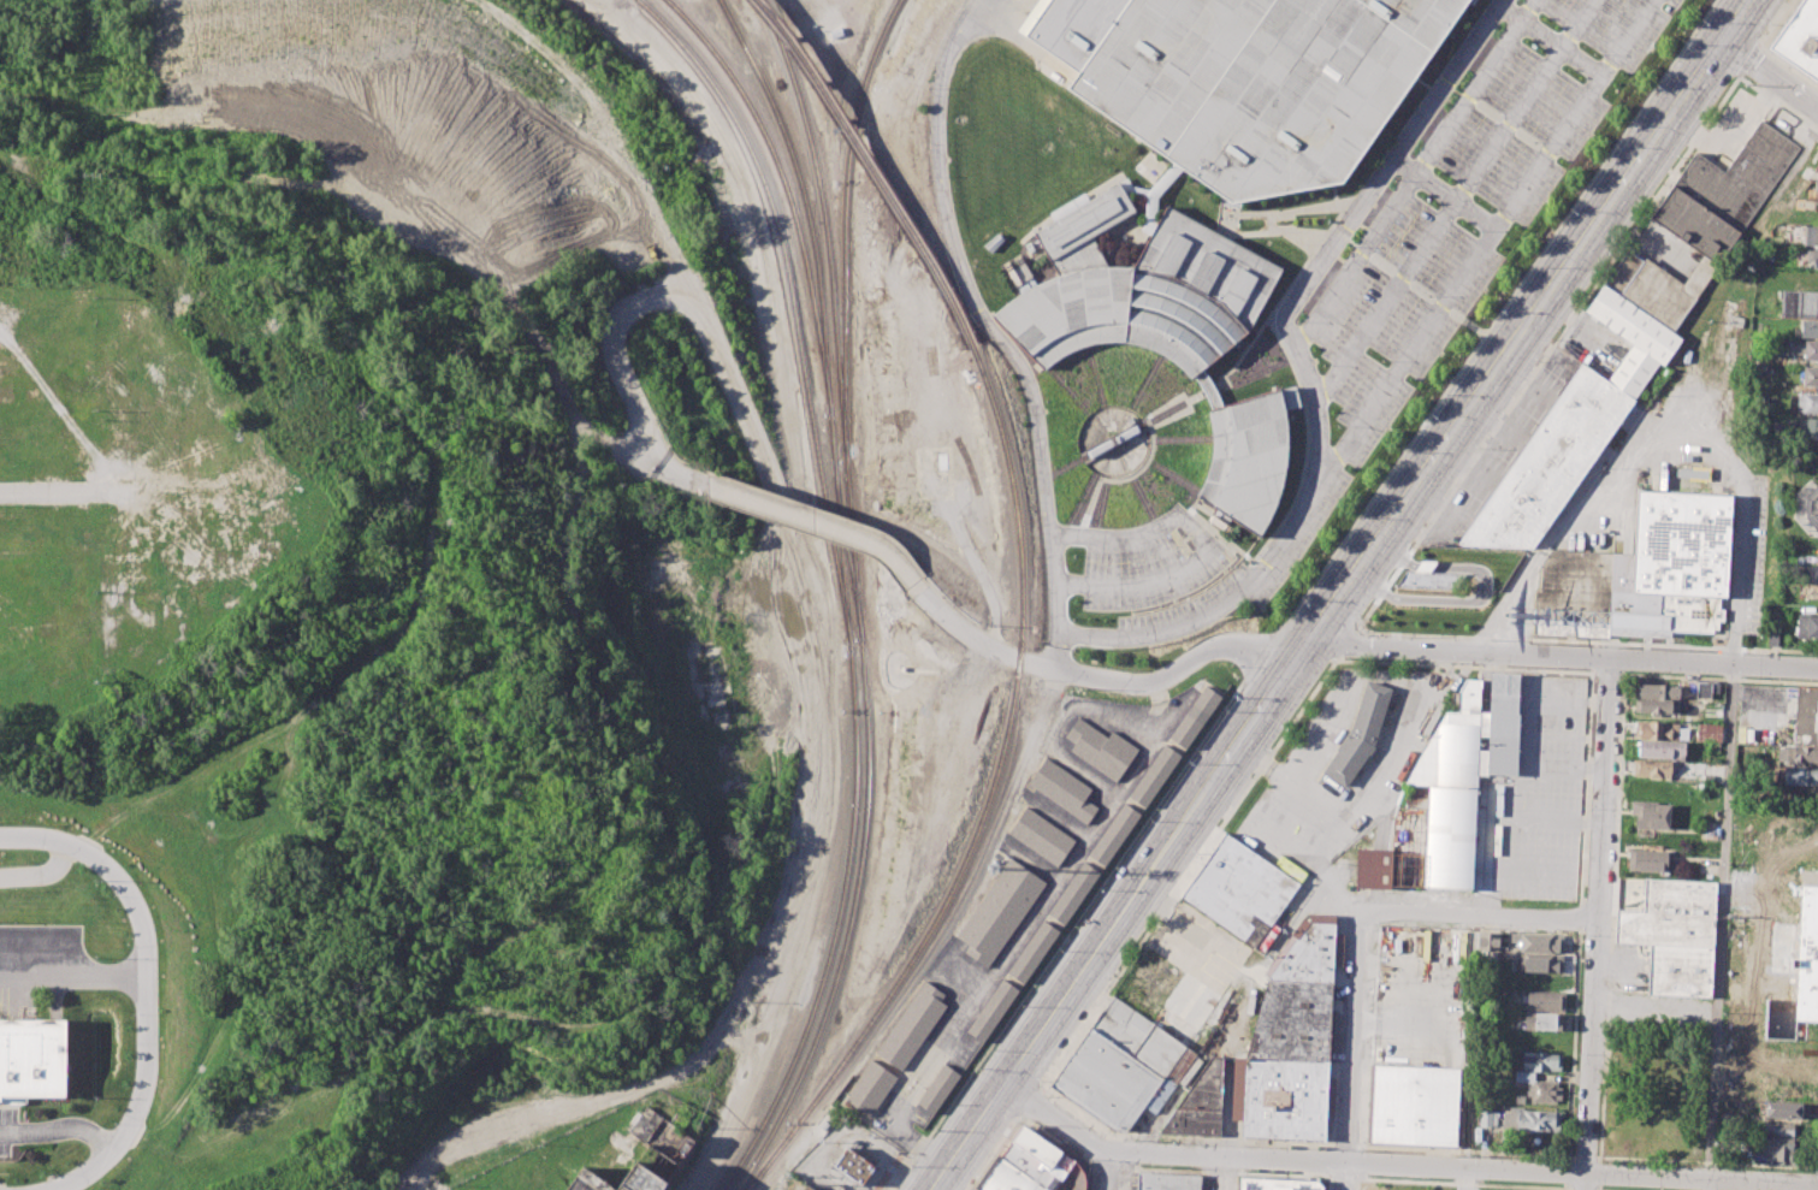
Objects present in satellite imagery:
road: (604, 2)
street lamp: (1701, 20)
parking lot: (1613, 24)
building: (1070, 29)
building: (1799, 39)
road: (1548, 40)
road: (1759, 45)
road: (1766, 52)
road: (1748, 61)
road: (1772, 76)
building: (1256, 84)
road: (1777, 103)
street lamp: (1629, 126)
parking lot: (1514, 129)
street lamp: (1678, 158)
building: (1816, 165)
railway: (874, 167)
road: (1415, 173)
railway: (787, 190)
building: (1816, 190)
road: (1444, 193)
railway: (805, 199)
road: (1455, 200)
street lamp: (1570, 211)
railway: (824, 220)
railway: (845, 220)
road: (1346, 224)
building: (1699, 226)
railway: (1148, 233)
building: (1810, 236)
street lamp: (1609, 256)
building: (1812, 256)
building: (1139, 290)
railway: (792, 304)
building: (1799, 304)
road: (704, 319)
building: (1810, 330)
road: (990, 331)
road: (1526, 333)
building: (1808, 350)
road: (1547, 351)
street lamp: (1536, 362)
railway: (1262, 373)
road: (1392, 375)
railway: (1096, 377)
building: (1810, 378)
railway: (1145, 383)
railway: (1070, 391)
building: (1289, 397)
building: (1807, 403)
parking lot: (1367, 413)
railway: (1166, 415)
street lamp: (1431, 416)
building: (1806, 427)
building: (1574, 432)
railway: (1180, 440)
street lamp: (1478, 449)
building: (1245, 460)
railway: (1070, 467)
railway: (1172, 475)
railway: (1124, 476)
road: (686, 478)
road: (51, 491)
park: (1793, 496)
railway: (1142, 497)
railway: (1084, 499)
railway: (1103, 503)
railway: (1273, 509)
street lamp: (1361, 519)
road: (823, 523)
street lamp: (1409, 544)
road: (1204, 545)
railway: (846, 550)
building: (1646, 569)
building: (1810, 573)
building: (1429, 579)
street lamp: (1302, 602)
street lamp: (1358, 618)
building: (1807, 627)
road: (1473, 637)
building: (1773, 637)
road: (1345, 641)
road: (1702, 646)
road: (1564, 655)
road: (1592, 656)
road: (1337, 657)
street lamp: (1346, 661)
street lamp: (1451, 663)
street lamp: (1556, 668)
road: (1607, 671)
street lamp: (1650, 673)
road: (1097, 677)
road: (1719, 677)
street lamp: (1741, 677)
building: (1702, 689)
building: (1658, 691)
street lamp: (1234, 699)
building: (1658, 705)
railway: (875, 710)
building: (1196, 717)
building: (1801, 717)
street lamp: (1283, 729)
building: (1658, 730)
building: (1710, 732)
building: (1361, 736)
building: (1101, 747)
building: (1660, 748)
building: (1801, 756)
road: (1528, 768)
building: (1651, 768)
building: (1155, 776)
building: (1801, 776)
road: (1585, 786)
building: (1062, 788)
road: (1380, 788)
building: (1450, 792)
road: (1725, 792)
railway: (989, 798)
street lamp: (1588, 809)
building: (1650, 813)
railway: (853, 815)
road: (1515, 817)
street lamp: (1149, 822)
railway: (863, 833)
building: (1115, 834)
building: (1042, 836)
street lamp: (1196, 856)
building: (1647, 860)
road: (41, 872)
road: (1528, 874)
road: (1173, 889)
road: (1486, 892)
building: (1775, 892)
building: (1240, 893)
building: (1074, 894)
building: (1000, 911)
road: (1478, 911)
road: (1611, 917)
road: (1577, 918)
road: (1597, 923)
road: (1113, 928)
road: (1024, 933)
street lamp: (1582, 935)
building: (1674, 936)
building: (1487, 941)
building: (1538, 941)
building: (1034, 952)
street lamp: (1059, 952)
building: (1539, 963)
building: (1806, 972)
road: (71, 973)
street lamp: (1109, 978)
road: (142, 988)
building: (1544, 1000)
building: (994, 1012)
building: (1542, 1022)
building: (912, 1024)
building: (1293, 1042)
road: (1350, 1048)
street lamp: (989, 1052)
street lamp: (1577, 1056)
building: (32, 1059)
building: (1540, 1061)
building: (1130, 1062)
street lamp: (1040, 1084)
building: (870, 1087)
building: (1540, 1088)
building: (938, 1089)
road: (1042, 1089)
street lamp: (1047, 1096)
building: (1517, 1100)
road: (1031, 1102)
building: (1201, 1105)
building: (1416, 1106)
building: (1781, 1109)
building: (922, 1113)
building: (1487, 1119)
building: (1530, 1119)
road: (58, 1127)
building: (1777, 1129)
street lamp: (1574, 1139)
street lamp: (1136, 1141)
road: (1055, 1144)
street lamp: (1242, 1145)
road: (1344, 1148)
road: (1568, 1148)
building: (1781, 1148)
street lamp: (1363, 1150)
road: (997, 1153)
street lamp: (1473, 1155)
road: (1568, 1155)
building: (640, 1156)
road: (1583, 1156)
road: (1706, 1160)
street lamp: (1604, 1162)
road: (1399, 1164)
road: (1109, 1165)
building: (855, 1166)
building: (1029, 1166)
street lamp: (1696, 1166)
street lamp: (910, 1167)
road: (1817, 1170)
road: (1230, 1171)
road: (1567, 1171)
road: (1226, 1172)
street lamp: (1816, 1172)
road: (1330, 1173)
road: (1598, 1173)
road: (1113, 1174)
road: (1124, 1176)
building: (1277, 1180)
building: (1168, 1182)
road: (1328, 1182)
road: (1817, 1182)
road: (1462, 1183)
road: (1356, 1184)
road: (1598, 1188)
building: (809, 1189)
road: (1569, 1189)
road: (1583, 1189)
road: (1595, 1189)

